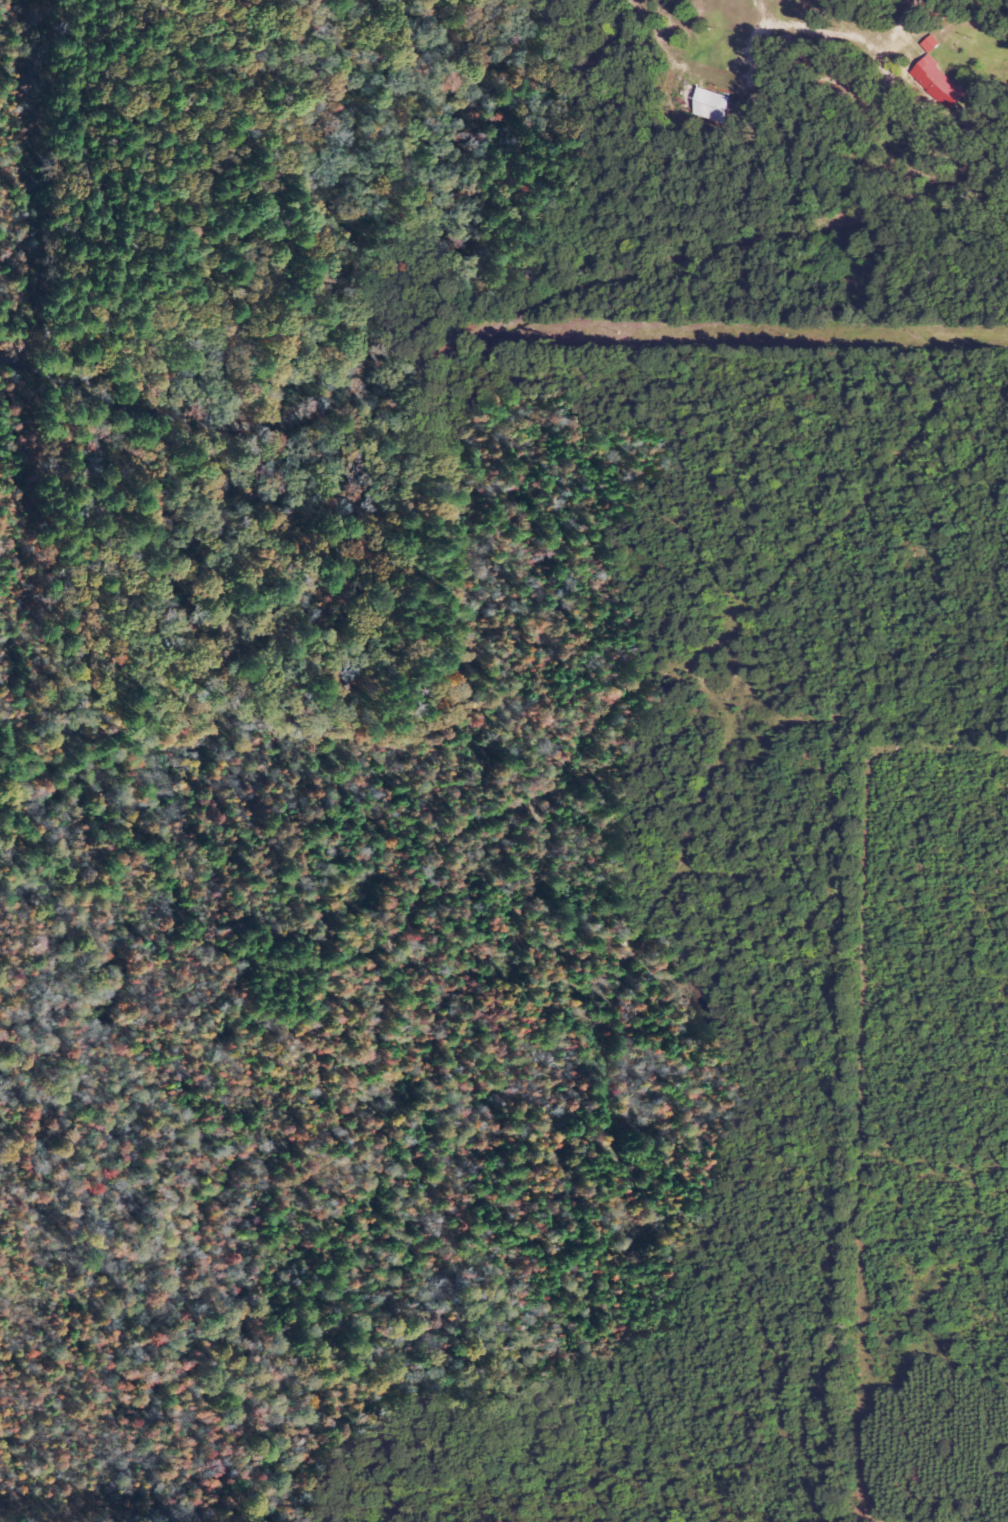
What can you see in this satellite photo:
road: (972, 58)
road: (827, 94)
road: (496, 98)
road: (507, 390)

